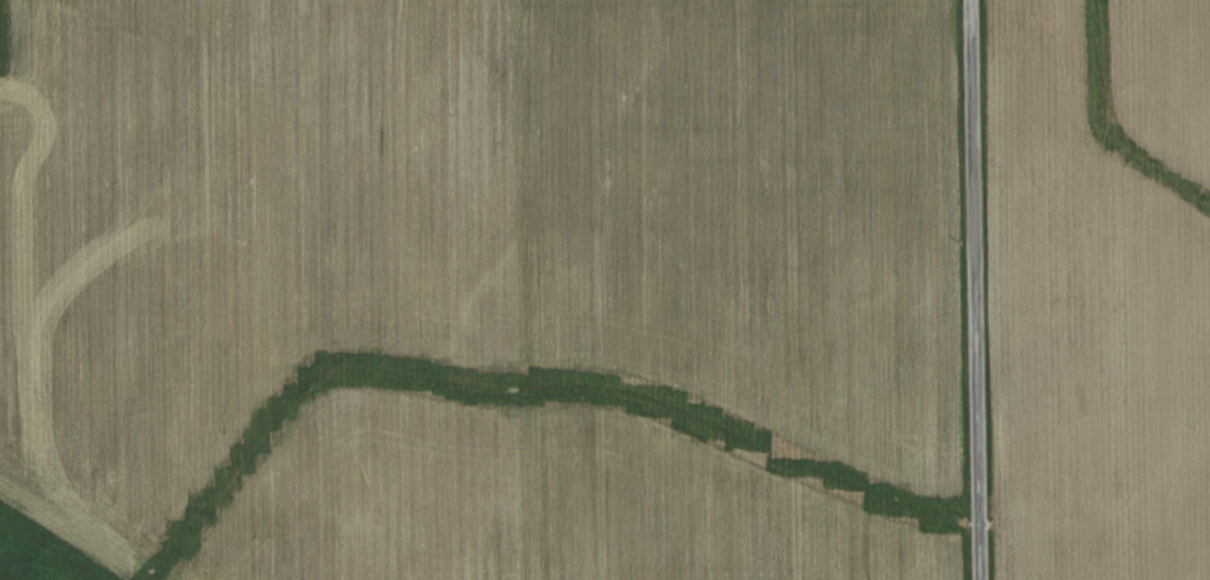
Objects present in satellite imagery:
road: (971, 289)

